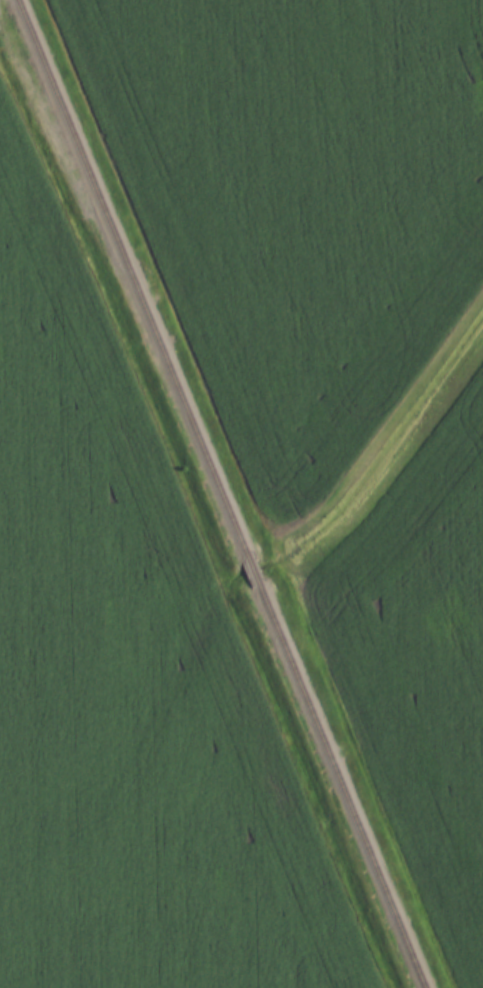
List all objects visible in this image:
railway: (133, 279)
railway: (253, 572)
railway: (336, 788)

